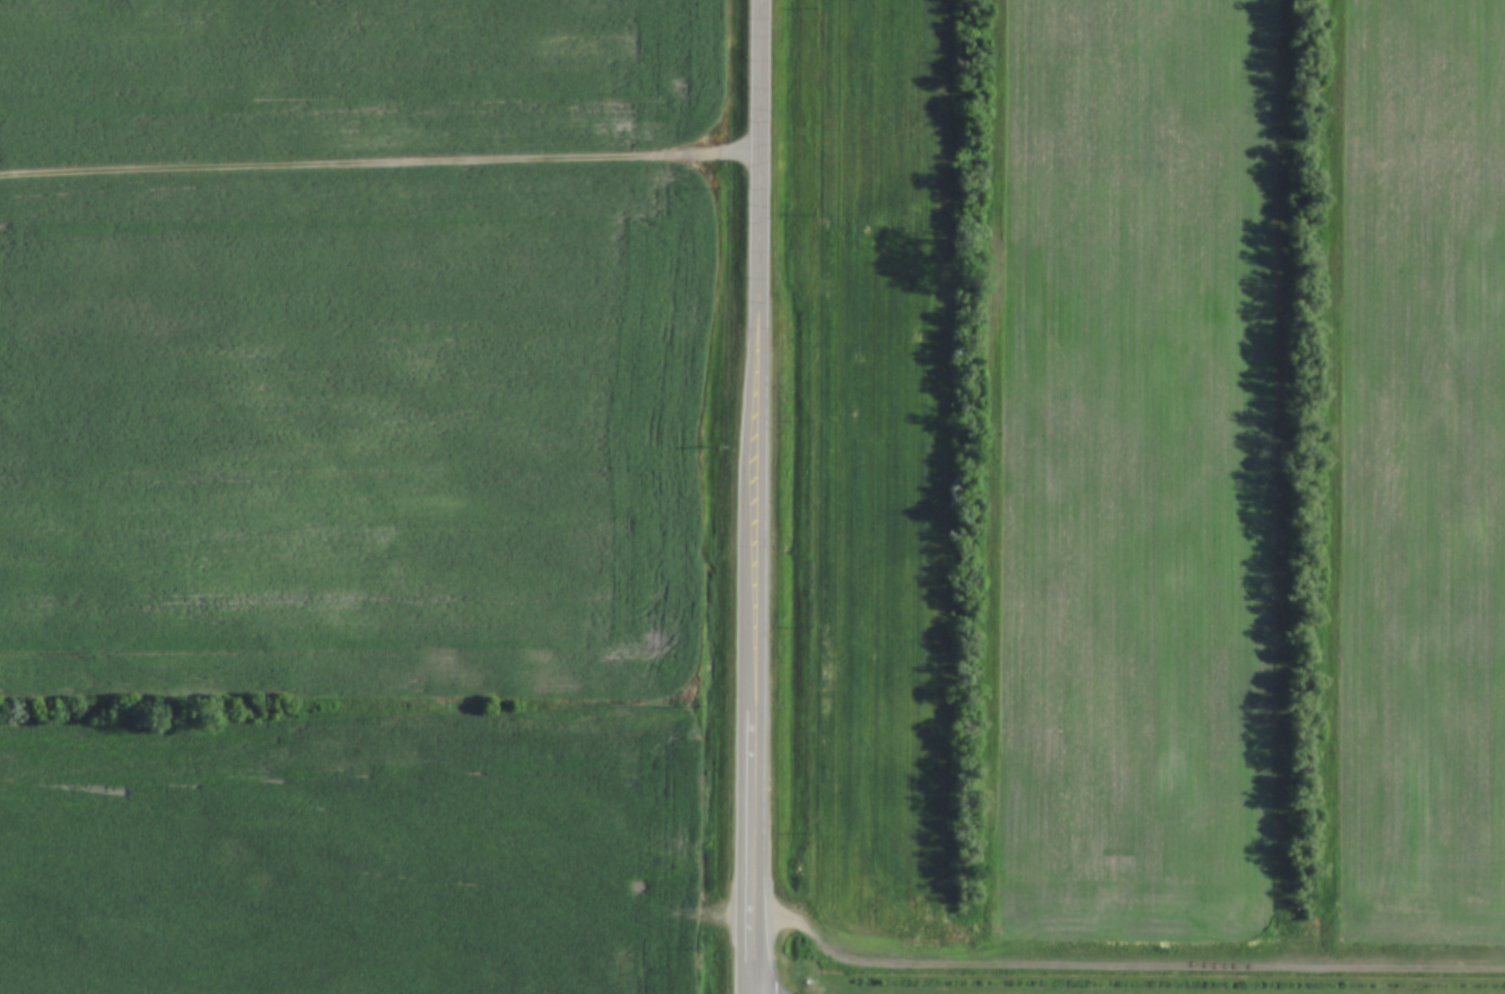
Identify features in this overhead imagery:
road: (382, 162)
road: (762, 496)
road: (1127, 967)

